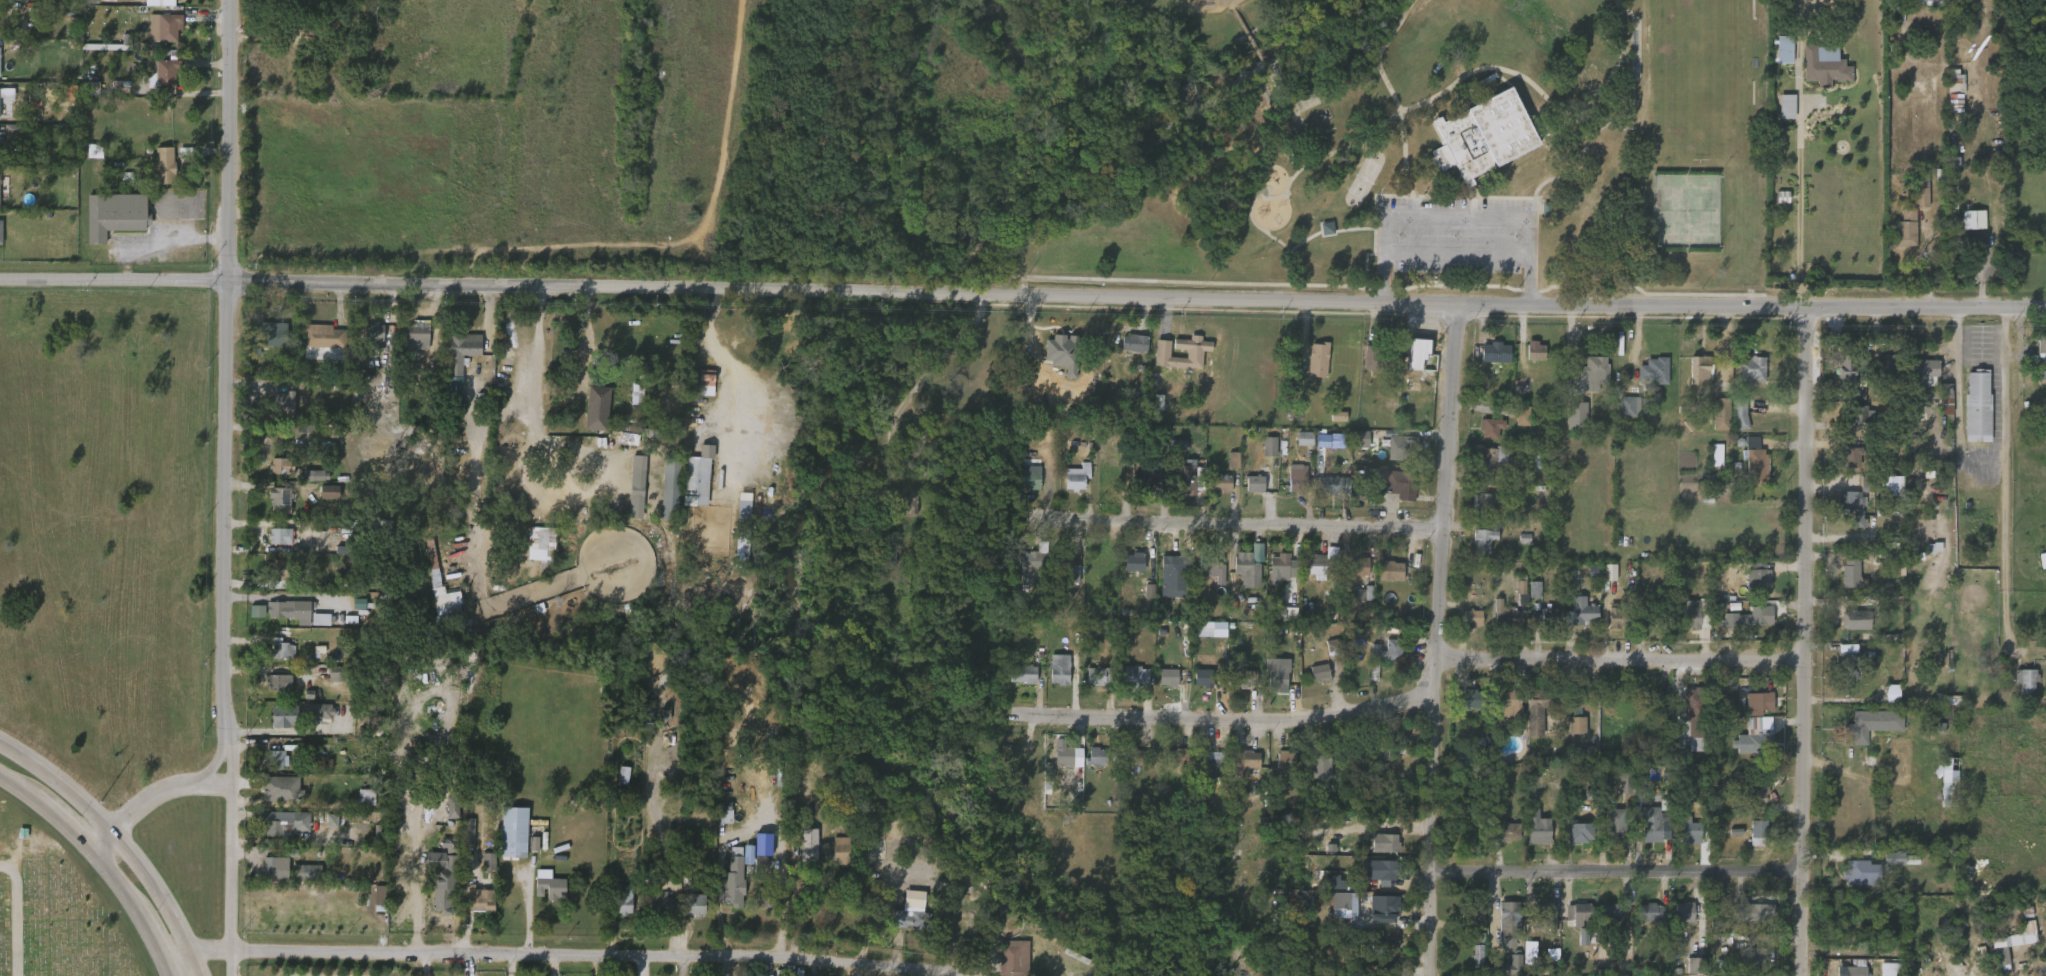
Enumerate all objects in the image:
park: (1215, 0)
building: (1811, 2)
building: (1919, 5)
building: (152, 7)
building: (168, 26)
building: (1774, 58)
building: (1824, 66)
building: (162, 73)
road: (1392, 92)
road: (1441, 95)
building: (6, 96)
building: (1789, 106)
road: (1598, 107)
building: (1779, 115)
building: (1482, 136)
park: (1392, 137)
building: (166, 165)
building: (158, 174)
building: (1921, 189)
building: (1913, 201)
road: (1800, 204)
building: (115, 219)
road: (1450, 228)
building: (1906, 228)
building: (0, 232)
building: (1897, 237)
road: (165, 248)
road: (461, 285)
road: (950, 295)
road: (1511, 305)
building: (275, 336)
building: (420, 336)
building: (325, 337)
road: (587, 337)
building: (368, 341)
building: (1135, 343)
building: (315, 345)
building: (410, 346)
building: (461, 351)
building: (1126, 352)
building: (1415, 352)
building: (1494, 352)
building: (1193, 353)
building: (2037, 358)
building: (1317, 359)
building: (1378, 359)
building: (1409, 361)
building: (1485, 361)
building: (1528, 361)
building: (1054, 362)
building: (1186, 363)
building: (1699, 368)
building: (1752, 368)
building: (1310, 369)
building: (1364, 369)
building: (1655, 369)
building: (1846, 370)
building: (1924, 370)
road: (723, 371)
building: (1887, 371)
building: (1589, 372)
building: (1877, 373)
road: (920, 377)
building: (1743, 377)
building: (1646, 379)
building: (1691, 379)
building: (1838, 381)
building: (1916, 381)
building: (698, 391)
building: (1945, 398)
building: (1978, 404)
building: (256, 406)
building: (286, 406)
building: (1936, 407)
building: (597, 408)
road: (537, 410)
building: (1150, 411)
building: (276, 412)
building: (1721, 412)
building: (1740, 413)
building: (1861, 413)
building: (1575, 414)
building: (1620, 415)
building: (1712, 422)
building: (1515, 424)
building: (1732, 424)
building: (1853, 424)
building: (1330, 425)
building: (1568, 425)
building: (1492, 427)
building: (1484, 436)
building: (1403, 446)
building: (619, 447)
building: (1297, 447)
building: (1352, 447)
building: (1262, 455)
building: (1850, 455)
building: (1395, 457)
building: (1488, 461)
building: (1757, 463)
building: (1709, 464)
building: (283, 465)
building: (1842, 466)
building: (1535, 467)
building: (1747, 470)
building: (273, 474)
building: (701, 474)
road: (227, 476)
building: (1185, 476)
building: (1074, 477)
road: (2013, 479)
building: (306, 484)
building: (1403, 485)
building: (1023, 486)
building: (1337, 486)
building: (673, 487)
building: (1143, 487)
building: (1178, 487)
building: (1288, 488)
building: (663, 493)
building: (1214, 493)
building: (1393, 493)
building: (1882, 494)
building: (280, 500)
building: (322, 500)
building: (896, 500)
building: (1853, 507)
building: (272, 509)
building: (1476, 511)
building: (750, 514)
building: (736, 515)
building: (1843, 515)
road: (1257, 526)
building: (1483, 535)
building: (279, 536)
building: (548, 538)
building: (273, 545)
building: (532, 551)
building: (1321, 563)
building: (1034, 565)
building: (1248, 565)
building: (1064, 566)
building: (1284, 567)
building: (1214, 568)
building: (284, 570)
building: (1126, 571)
building: (1392, 571)
building: (1851, 573)
building: (1201, 574)
building: (1274, 575)
building: (1352, 575)
building: (1176, 576)
building: (1760, 576)
building: (1023, 577)
building: (1064, 578)
building: (1382, 580)
building: (1601, 581)
building: (1842, 582)
building: (1750, 587)
building: (1567, 588)
building: (433, 589)
building: (1521, 590)
building: (1513, 601)
building: (292, 610)
building: (1583, 613)
building: (1657, 613)
building: (1691, 613)
building: (353, 615)
building: (1618, 615)
building: (1507, 616)
building: (1751, 617)
building: (1550, 618)
building: (283, 619)
building: (251, 620)
building: (1858, 620)
building: (1276, 621)
building: (1500, 624)
building: (1607, 625)
building: (1742, 625)
building: (1465, 627)
building: (313, 628)
building: (1846, 628)
building: (1194, 639)
road: (1439, 640)
road: (1807, 642)
building: (281, 649)
building: (1385, 653)
building: (273, 657)
building: (1852, 658)
building: (2045, 661)
road: (1622, 663)
building: (1057, 669)
building: (1021, 674)
building: (1101, 676)
building: (1134, 676)
building: (1202, 676)
building: (1245, 678)
building: (2025, 681)
building: (281, 682)
building: (1312, 682)
building: (1015, 683)
building: (1269, 683)
building: (1088, 684)
building: (1127, 684)
building: (1160, 686)
building: (1196, 687)
building: (1237, 687)
building: (2017, 690)
building: (272, 691)
building: (1475, 696)
building: (1758, 700)
building: (1884, 702)
building: (1508, 703)
building: (1464, 707)
building: (1538, 708)
building: (1750, 712)
building: (1502, 713)
building: (285, 718)
building: (1568, 719)
building: (1691, 719)
building: (313, 720)
road: (1236, 720)
building: (1527, 723)
building: (1873, 723)
building: (278, 725)
building: (2007, 725)
building: (1568, 734)
building: (1747, 745)
building: (1379, 746)
building: (1067, 755)
building: (1094, 756)
building: (1136, 757)
building: (1874, 757)
building: (1180, 758)
building: (1319, 759)
building: (274, 760)
building: (1248, 760)
building: (1290, 760)
road: (214, 764)
building: (1216, 764)
building: (1088, 765)
building: (1060, 766)
building: (1172, 766)
building: (269, 768)
building: (1277, 768)
building: (1205, 769)
building: (1237, 769)
building: (1313, 776)
building: (1949, 782)
building: (615, 784)
building: (1940, 787)
building: (1615, 793)
building: (1760, 793)
building: (274, 796)
road: (151, 800)
building: (1751, 802)
building: (359, 805)
road: (45, 816)
building: (445, 816)
building: (285, 821)
building: (718, 821)
building: (1652, 823)
building: (1538, 825)
building: (1614, 828)
building: (1690, 828)
building: (325, 829)
building: (1578, 830)
building: (514, 831)
building: (278, 832)
building: (1758, 832)
road: (112, 833)
building: (1504, 833)
building: (1645, 835)
building: (1530, 837)
building: (1682, 838)
building: (461, 840)
building: (1573, 840)
building: (1749, 841)
building: (1384, 843)
building: (837, 850)
building: (1376, 851)
building: (761, 855)
building: (1900, 857)
building: (753, 861)
building: (801, 861)
building: (274, 865)
building: (866, 865)
building: (1894, 867)
building: (481, 870)
building: (1389, 871)
building: (1856, 873)
building: (267, 874)
building: (1975, 875)
road: (1620, 877)
building: (1379, 878)
building: (734, 879)
building: (298, 880)
building: (552, 886)
building: (726, 888)
building: (446, 889)
building: (541, 893)
building: (1328, 893)
building: (769, 897)
building: (661, 898)
building: (479, 899)
building: (624, 899)
building: (695, 904)
building: (472, 907)
road: (130, 908)
road: (418, 908)
building: (616, 908)
building: (1386, 908)
building: (757, 910)
road: (531, 911)
building: (653, 911)
building: (1473, 911)
building: (1656, 912)
building: (1683, 912)
building: (1754, 912)
building: (687, 913)
building: (1545, 913)
building: (1577, 913)
park: (49, 914)
building: (1336, 914)
building: (1376, 918)
building: (912, 919)
building: (1509, 920)
road: (830, 921)
building: (1602, 921)
building: (1643, 921)
building: (1675, 921)
building: (1742, 922)
building: (1570, 923)
building: (1386, 942)
building: (1575, 945)
building: (2006, 951)
road: (562, 957)
building: (1755, 958)
building: (1012, 959)
building: (1747, 963)
road: (230, 964)
building: (1469, 964)
road: (195, 965)
road: (166, 970)
building: (1506, 970)
building: (1853, 971)
building: (1880, 973)
building: (1388, 974)

